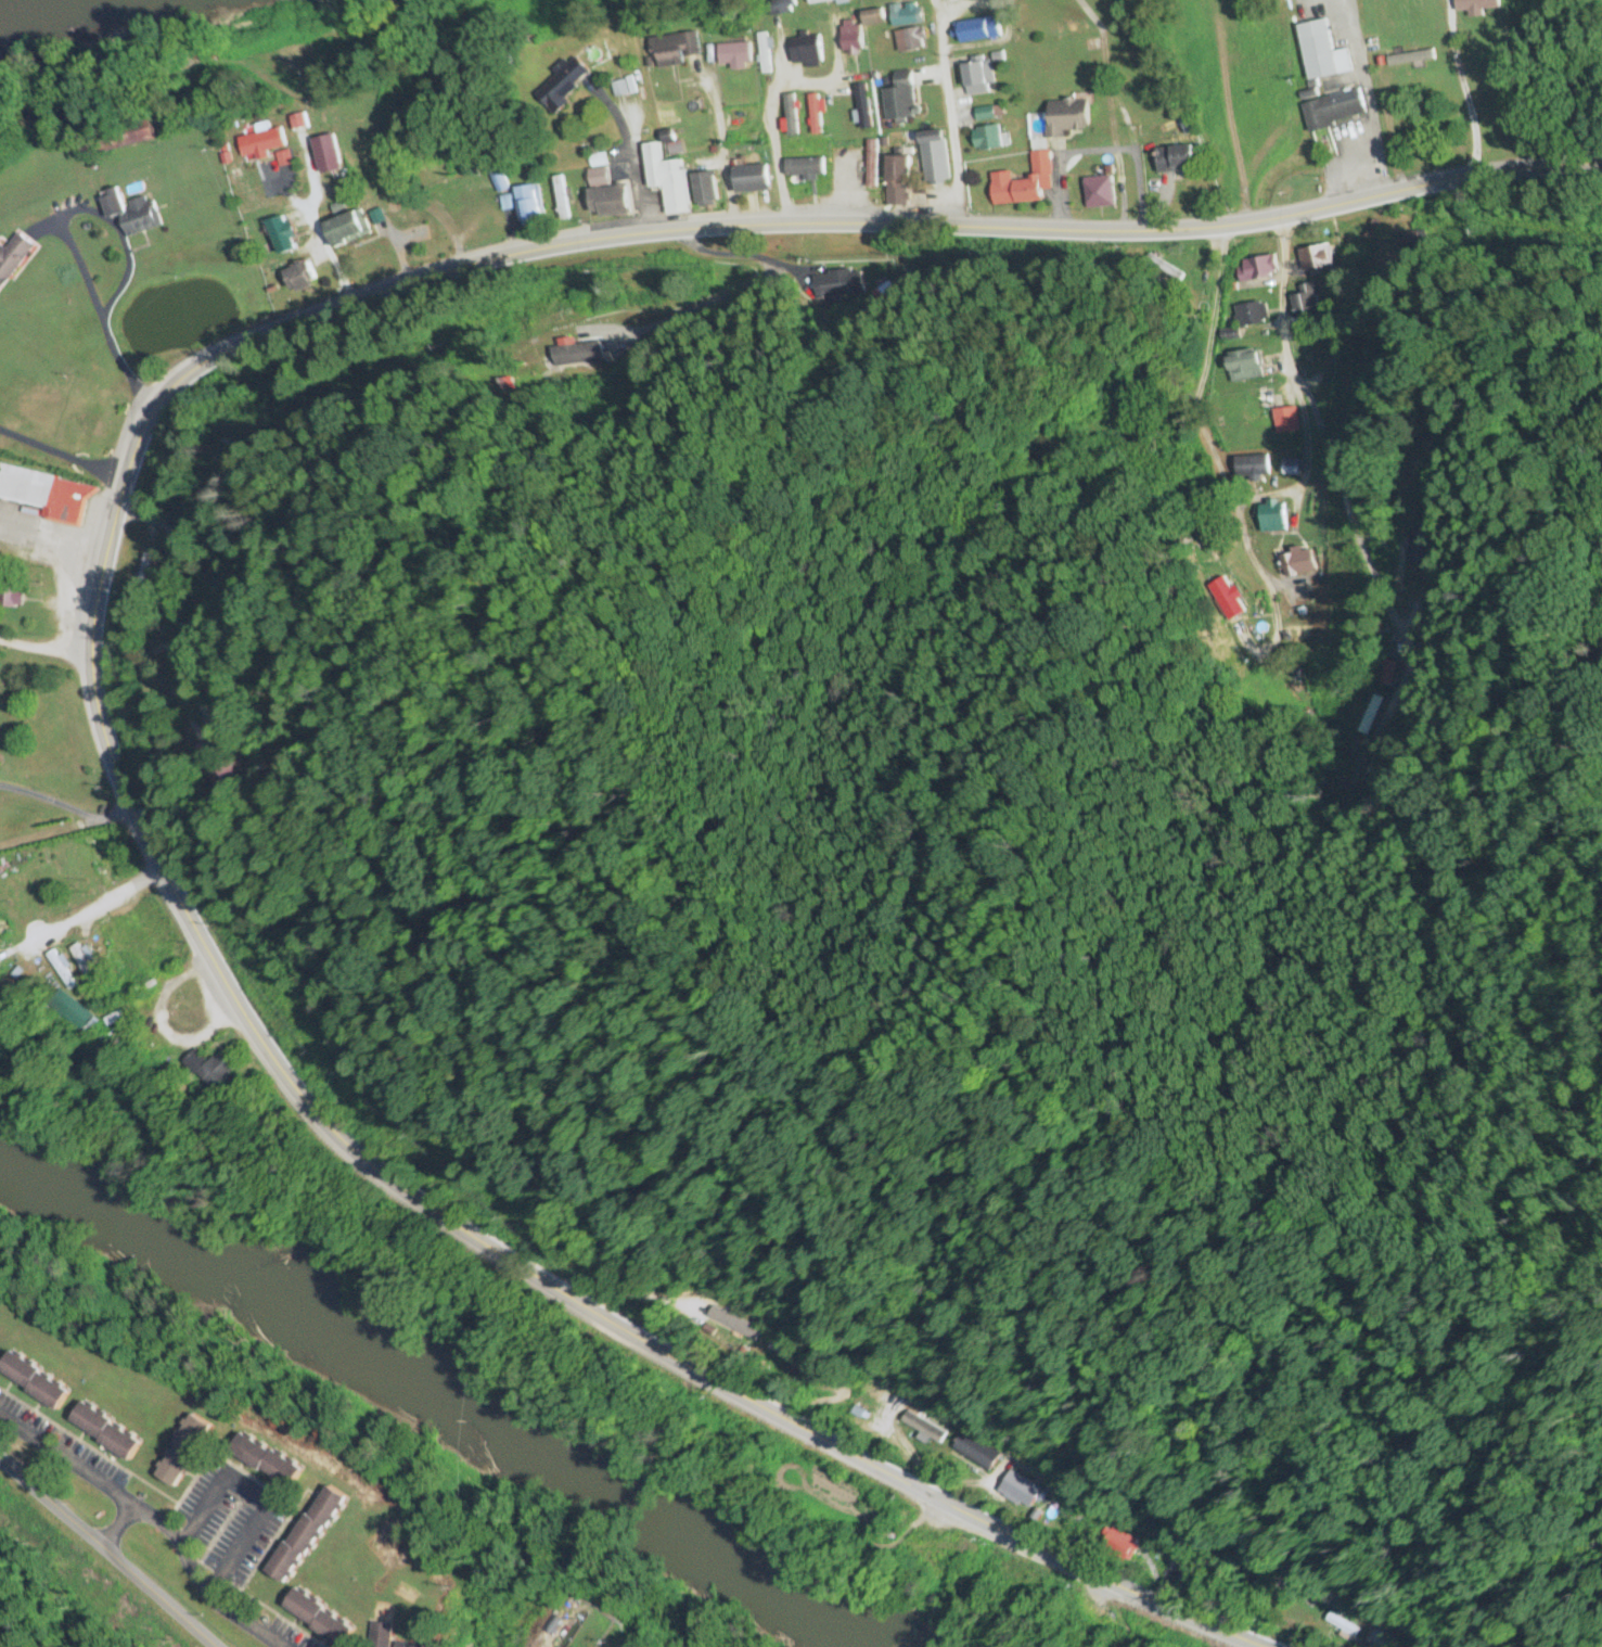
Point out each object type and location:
building: (1476, 7)
river: (56, 15)
building: (906, 15)
building: (873, 17)
building: (977, 30)
building: (851, 40)
building: (910, 40)
building: (672, 50)
building: (806, 51)
building: (1321, 52)
building: (762, 54)
building: (733, 56)
building: (974, 79)
road: (1463, 87)
building: (899, 100)
road: (1315, 102)
building: (862, 107)
building: (665, 110)
building: (1334, 111)
road: (949, 114)
building: (791, 115)
building: (815, 115)
building: (984, 115)
building: (1066, 118)
building: (986, 139)
building: (264, 142)
road: (705, 152)
building: (325, 154)
building: (933, 157)
road: (1144, 157)
building: (1175, 159)
building: (870, 165)
road: (639, 167)
building: (803, 169)
building: (897, 173)
building: (597, 177)
building: (666, 179)
building: (751, 179)
building: (497, 180)
building: (1023, 183)
building: (704, 189)
building: (1098, 192)
building: (560, 199)
building: (606, 202)
building: (528, 206)
building: (130, 215)
building: (344, 229)
building: (281, 234)
building: (13, 258)
building: (1315, 258)
building: (1256, 268)
building: (298, 278)
road: (118, 284)
building: (1305, 303)
building: (1251, 314)
road: (1283, 346)
building: (571, 356)
building: (1244, 367)
building: (1285, 421)
road: (61, 458)
building: (1291, 468)
building: (46, 495)
building: (1272, 518)
building: (1421, 544)
building: (1296, 563)
building: (143, 572)
building: (222, 580)
road: (98, 583)
building: (11, 596)
building: (1388, 673)
building: (217, 779)
road: (65, 813)
building: (99, 861)
building: (13, 888)
building: (47, 891)
road: (89, 910)
building: (82, 960)
building: (209, 1073)
building: (734, 1324)
building: (786, 1356)
building: (31, 1382)
river: (423, 1410)
building: (922, 1429)
building: (104, 1432)
road: (15, 1451)
building: (181, 1453)
building: (975, 1453)
building: (267, 1464)
building: (1021, 1490)
road: (208, 1505)
building: (305, 1536)
building: (1117, 1546)
road: (106, 1554)
building: (1174, 1573)
building: (318, 1619)
building: (1343, 1625)
building: (407, 1646)

